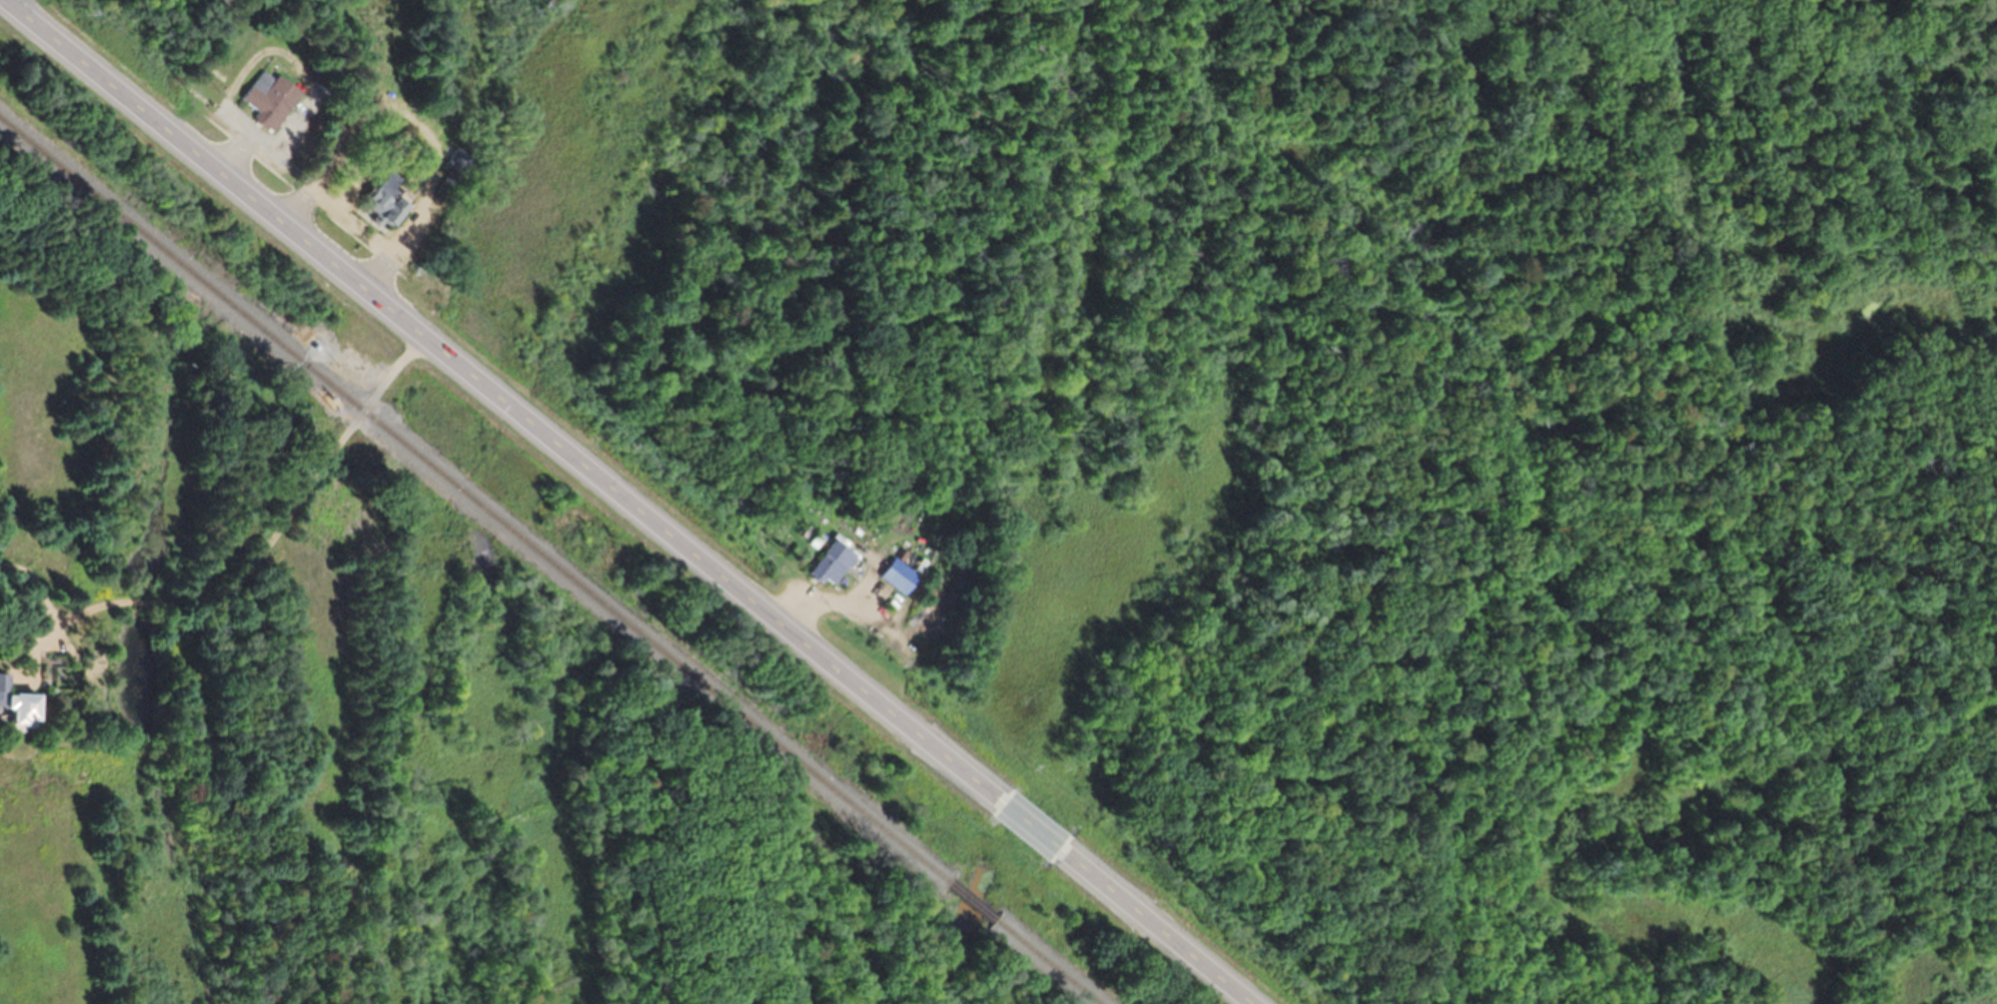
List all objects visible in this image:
building: (267, 99)
building: (382, 200)
road: (503, 401)
railway: (473, 500)
road: (267, 547)
building: (827, 564)
building: (896, 575)
building: (13, 709)
road: (1028, 825)
railway: (970, 900)
road: (1151, 925)
railway: (1046, 961)

